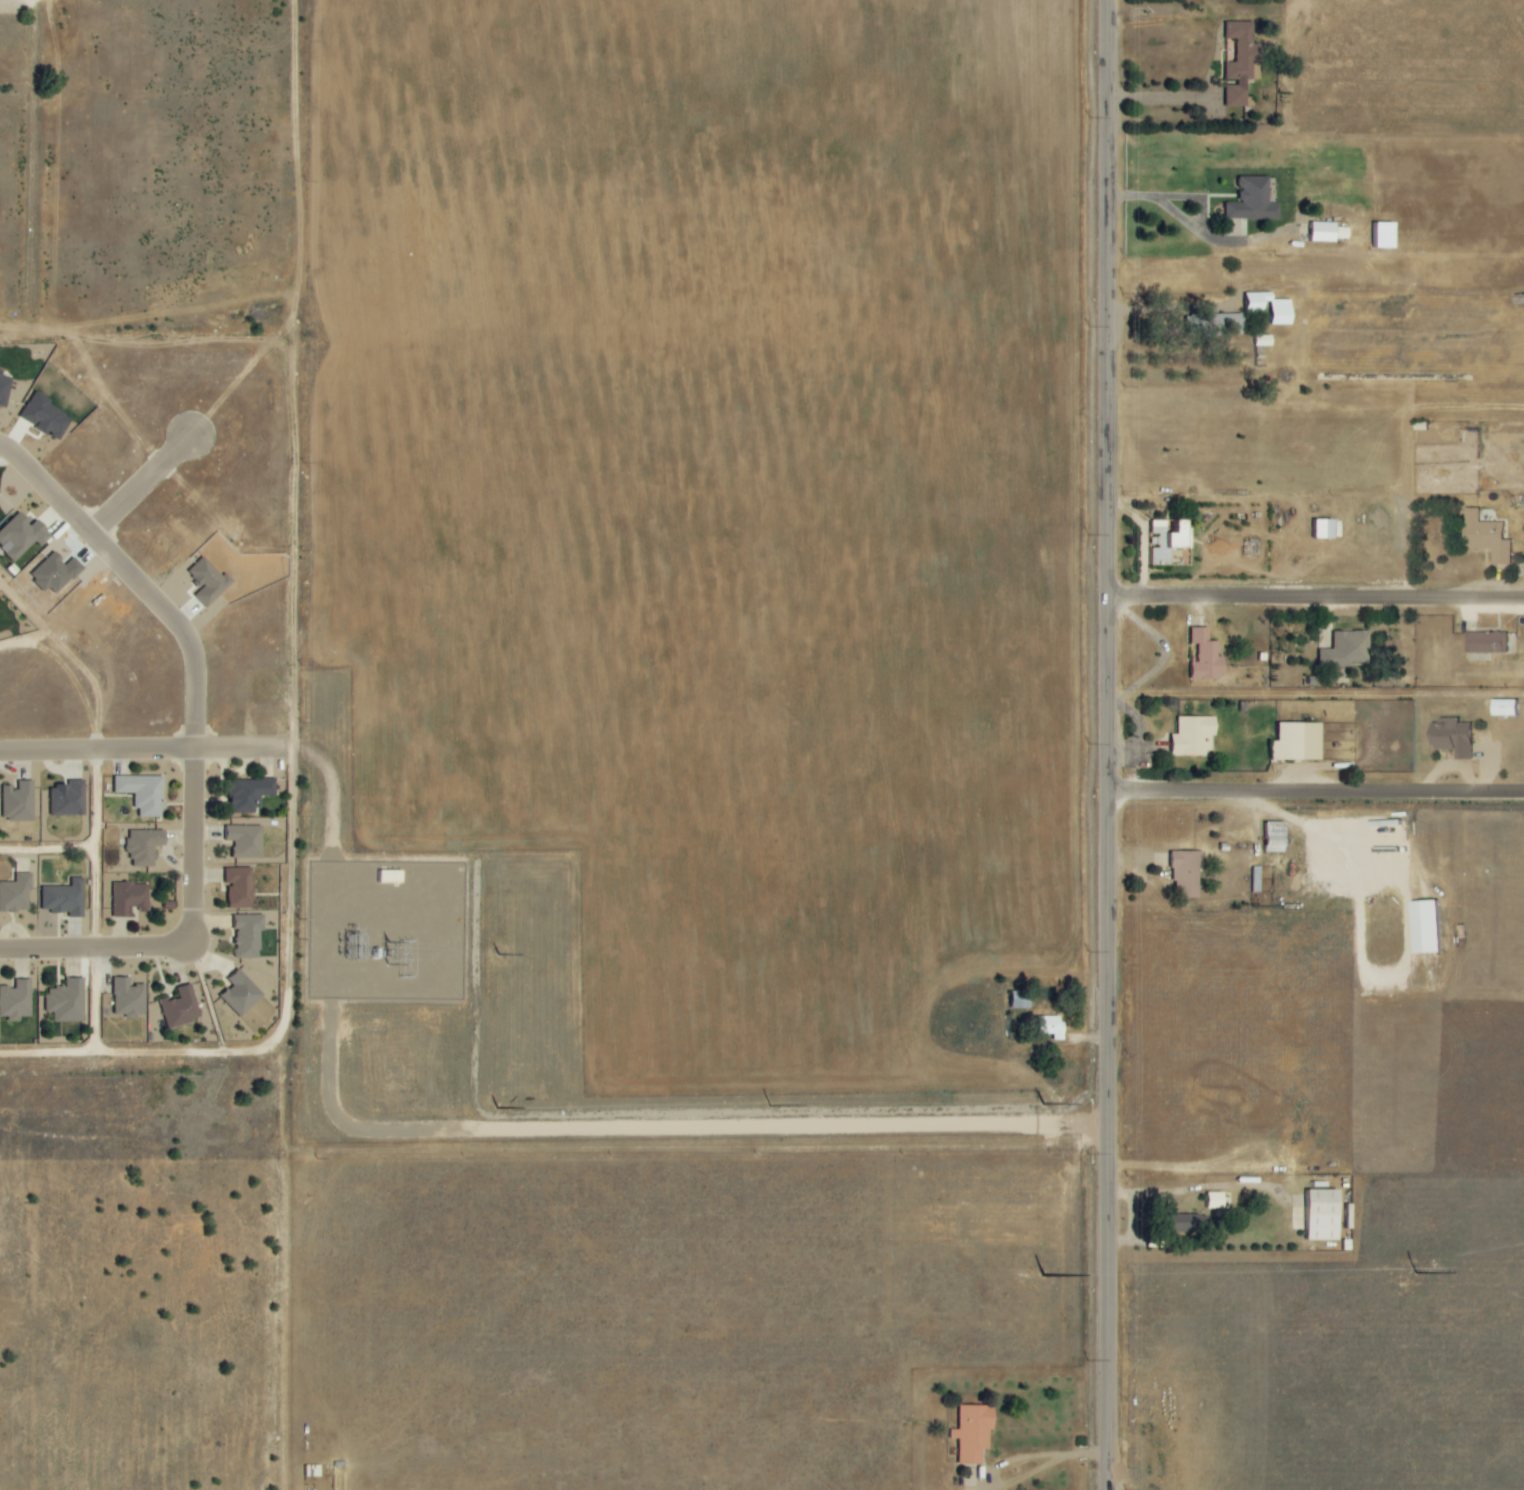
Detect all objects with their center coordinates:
building: (1238, 63)
road: (1170, 101)
power tower: (1088, 118)
building: (1248, 202)
building: (1322, 233)
building: (1377, 236)
road: (1194, 253)
road: (296, 301)
building: (1249, 305)
building: (1276, 313)
building: (1219, 324)
power tower: (1088, 327)
road: (1183, 336)
building: (1259, 341)
building: (5, 390)
building: (47, 417)
road: (140, 484)
building: (1317, 527)
power tower: (1088, 535)
building: (22, 536)
building: (1484, 536)
building: (1164, 539)
road: (134, 576)
building: (209, 581)
road: (1316, 595)
building: (1485, 642)
building: (1344, 648)
building: (1201, 655)
road: (1315, 693)
building: (1502, 707)
building: (1188, 736)
building: (1451, 736)
building: (1292, 741)
power tower: (1088, 743)
road: (1107, 744)
road: (144, 748)
building: (144, 793)
building: (250, 794)
road: (1315, 794)
building: (68, 799)
building: (19, 802)
building: (1269, 837)
building: (247, 841)
road: (47, 845)
building: (146, 847)
road: (94, 848)
building: (1182, 871)
building: (241, 887)
building: (16, 895)
building: (131, 897)
building: (66, 899)
building: (1423, 926)
building: (249, 935)
road: (186, 939)
power tower: (1087, 951)
building: (242, 994)
road: (93, 997)
building: (130, 998)
building: (1015, 999)
building: (16, 1001)
building: (68, 1001)
building: (181, 1008)
building: (1045, 1026)
road: (278, 1029)
power tower: (1087, 1156)
road: (1207, 1189)
building: (1216, 1200)
building: (1317, 1214)
building: (1180, 1223)
power tower: (1086, 1360)
building: (968, 1433)
road: (981, 1468)

